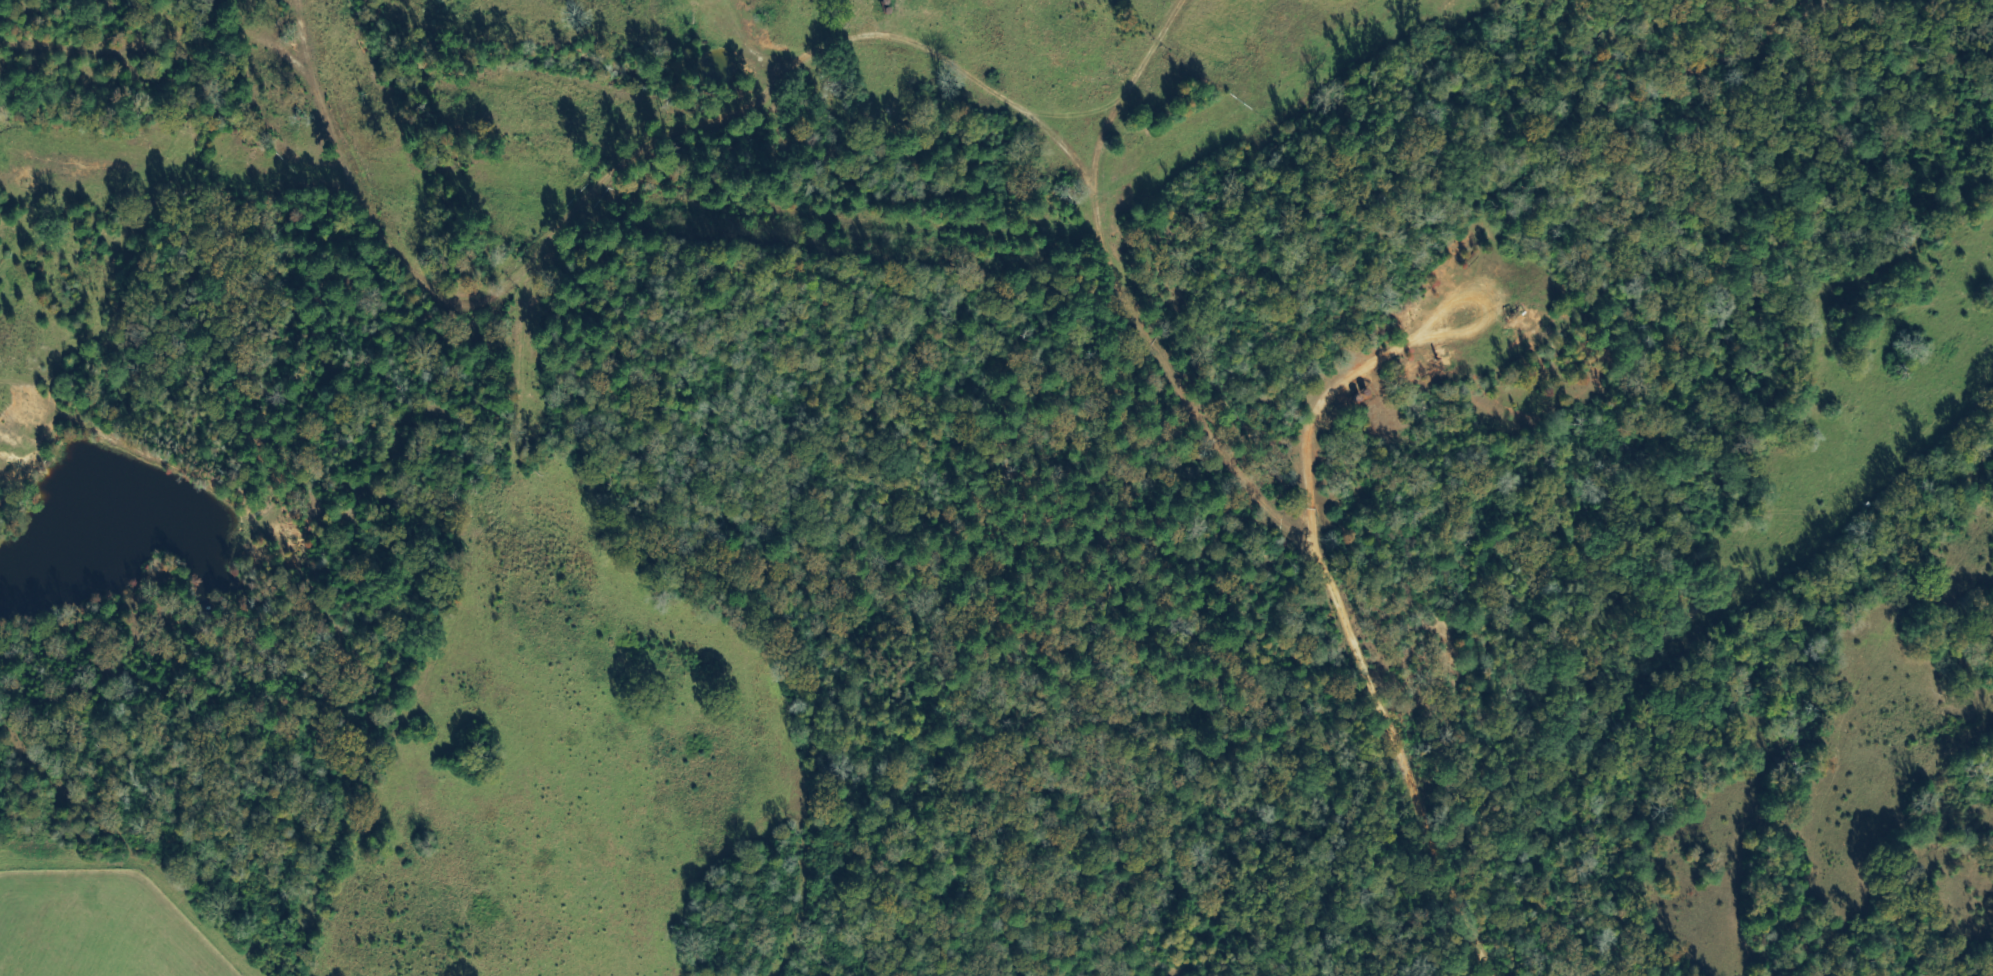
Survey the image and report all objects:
road: (1138, 69)
road: (1058, 110)

